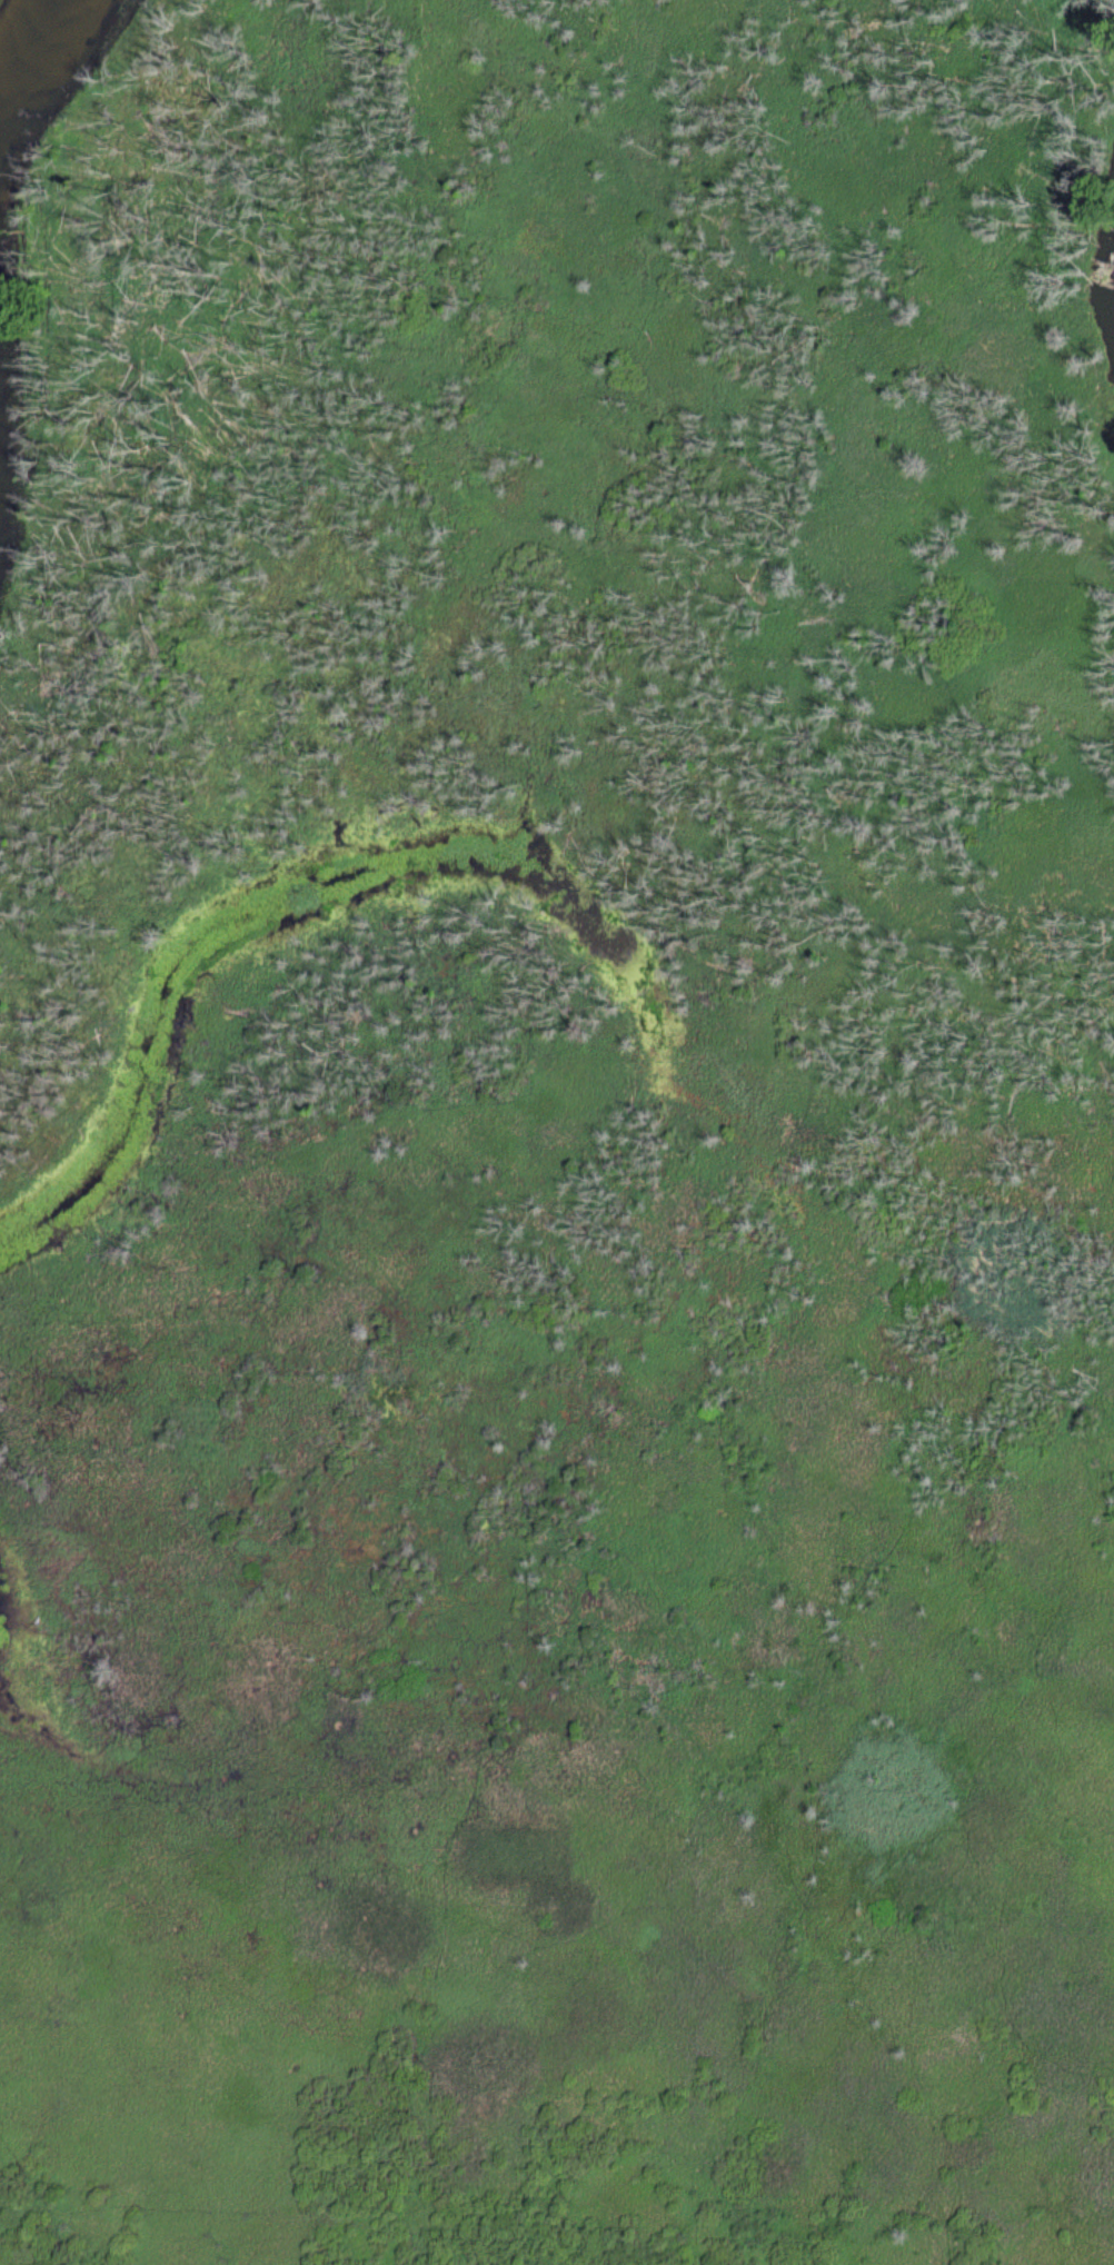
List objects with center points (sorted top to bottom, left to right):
river: (28, 56)

